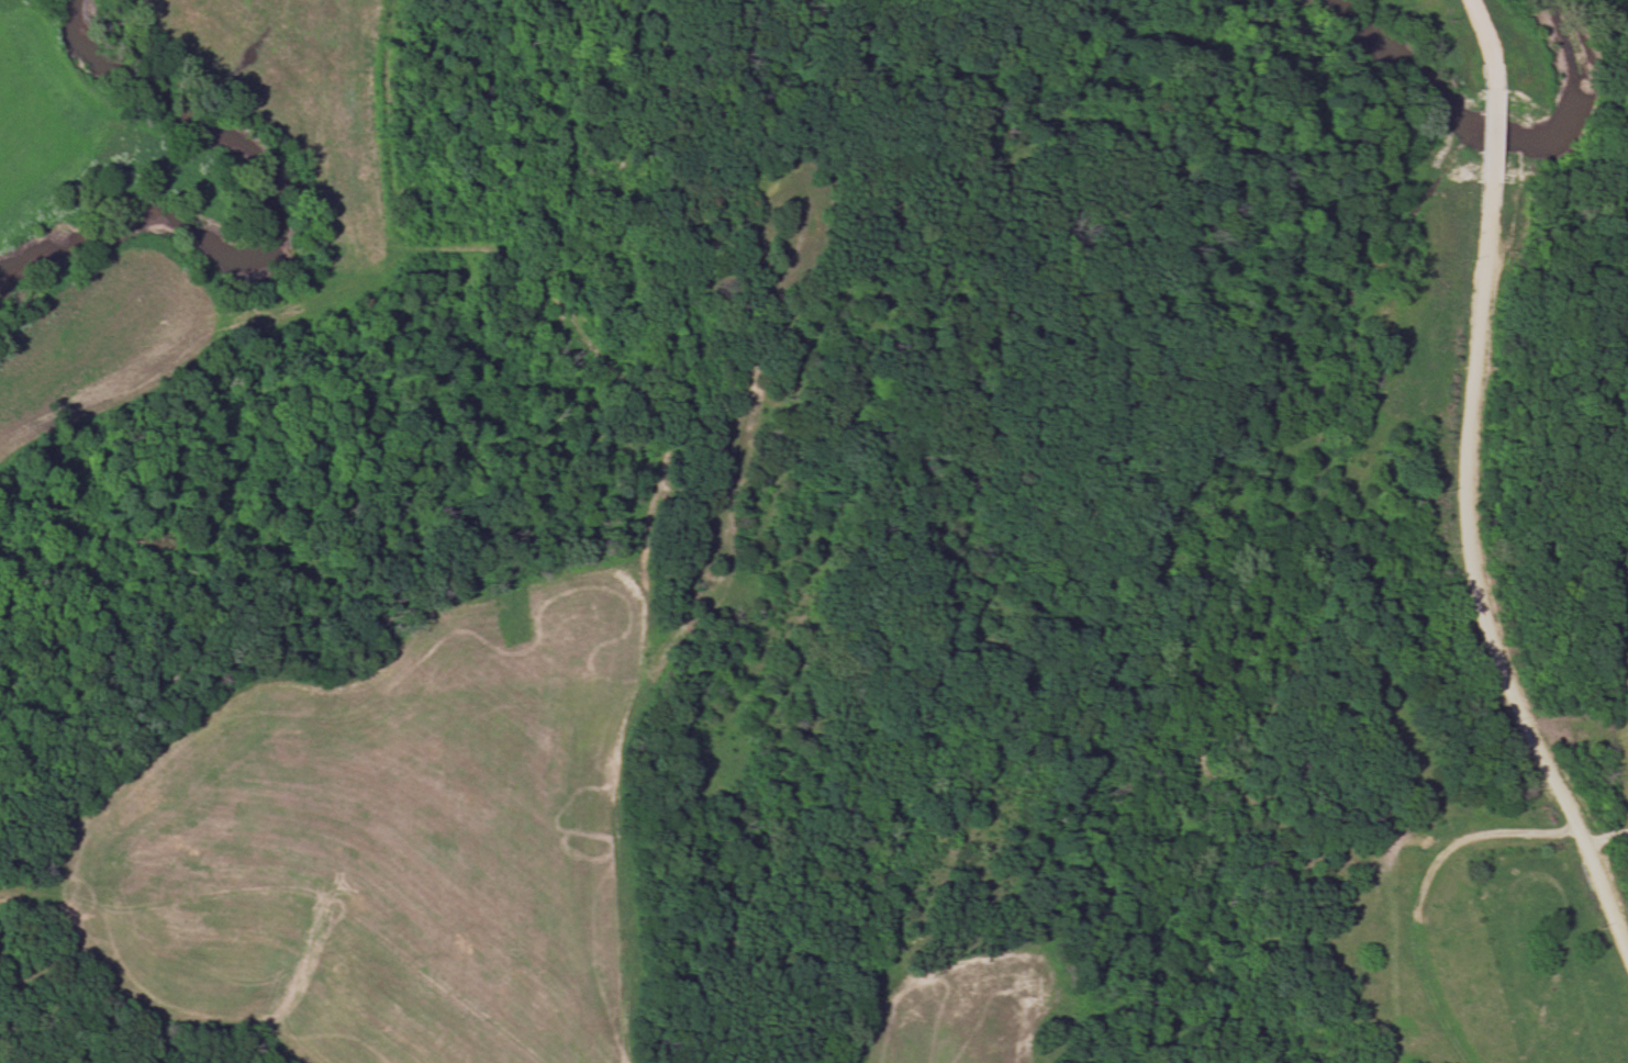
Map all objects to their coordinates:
road: (1458, 488)

